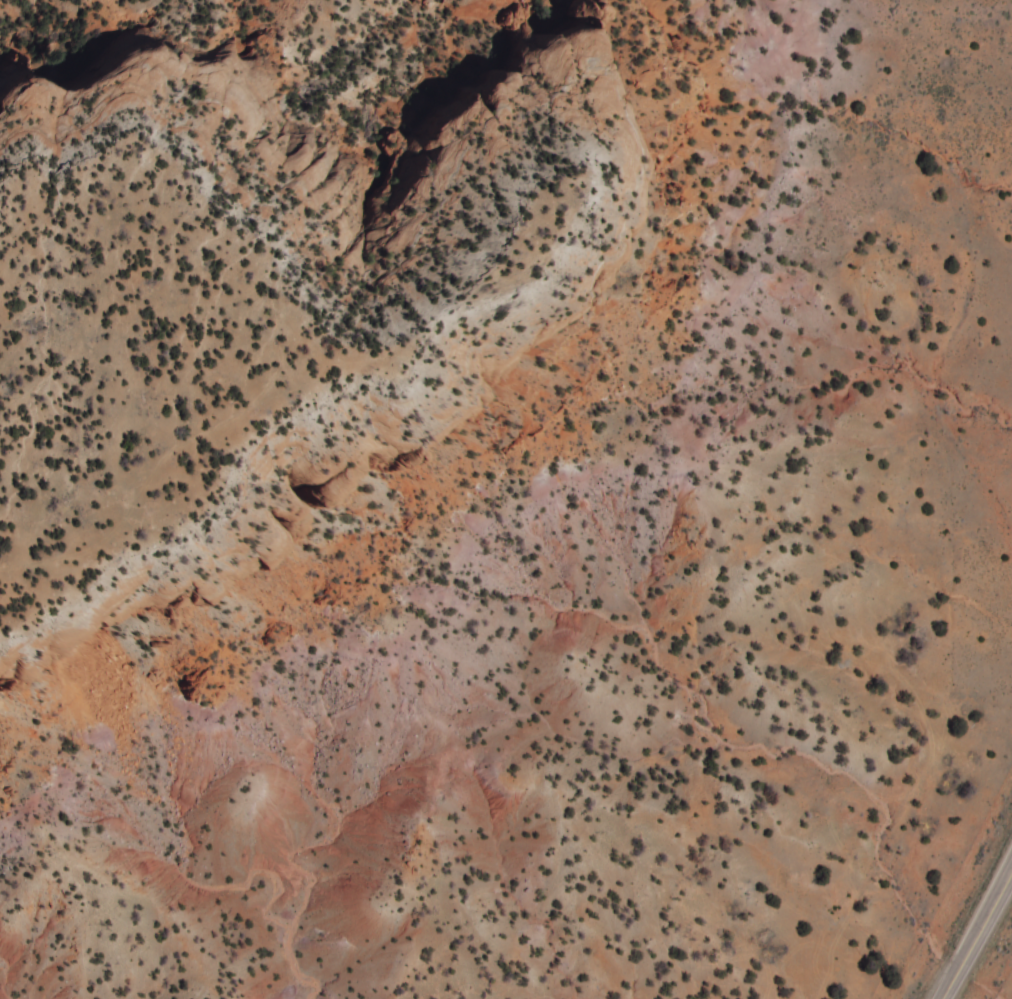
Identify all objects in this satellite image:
road: (976, 928)

